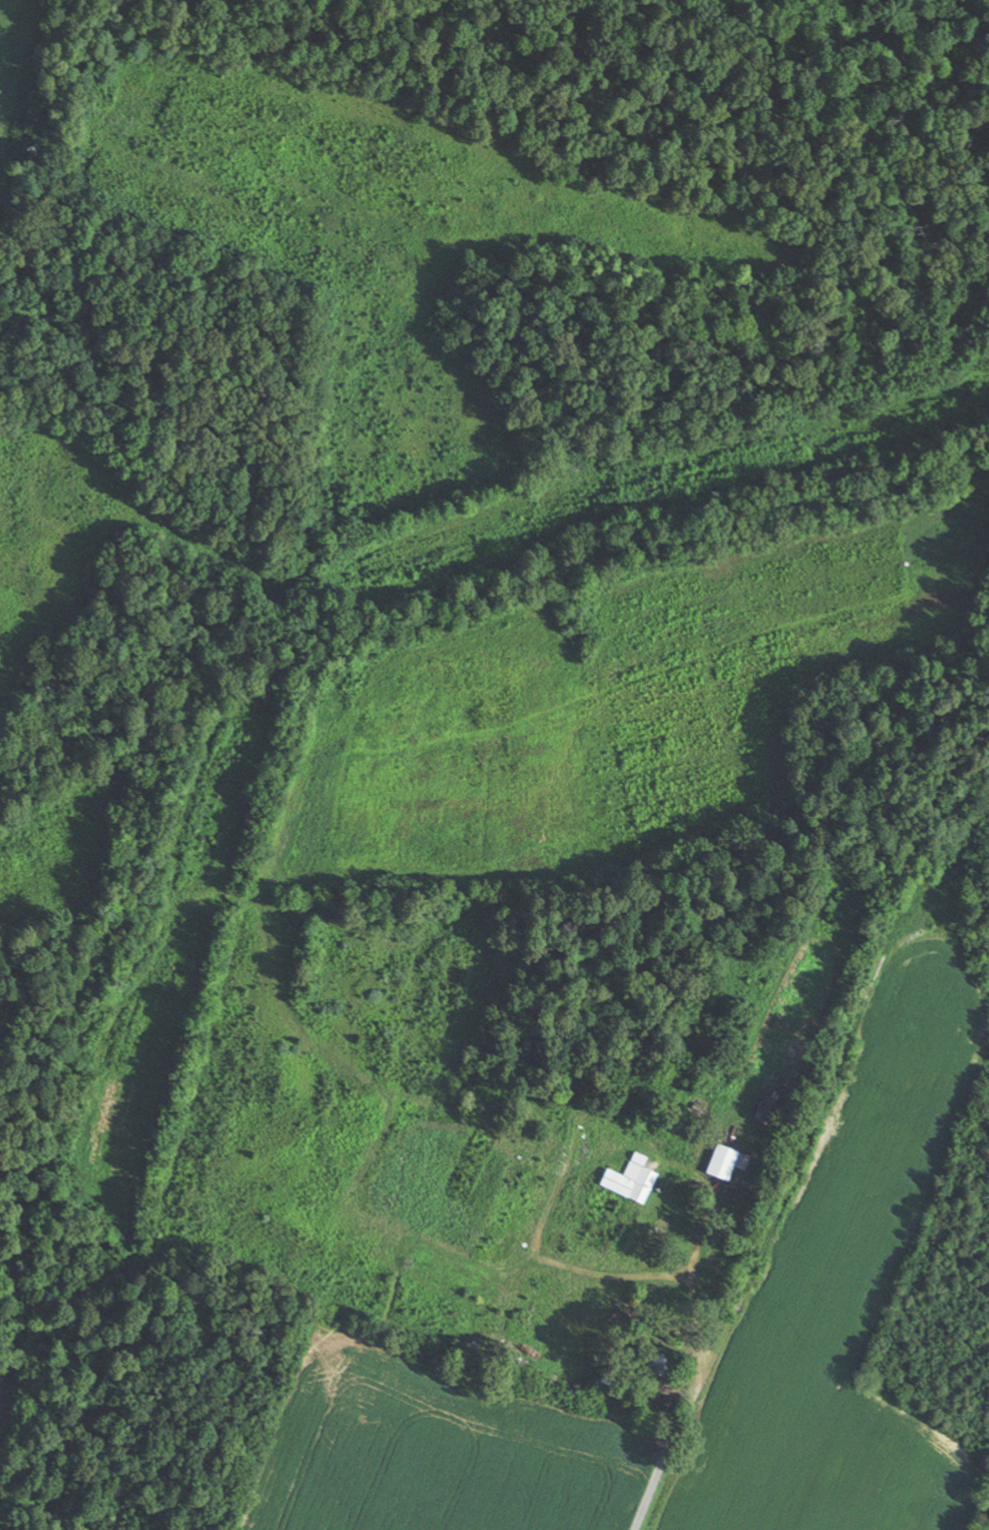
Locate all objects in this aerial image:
road: (658, 1479)

